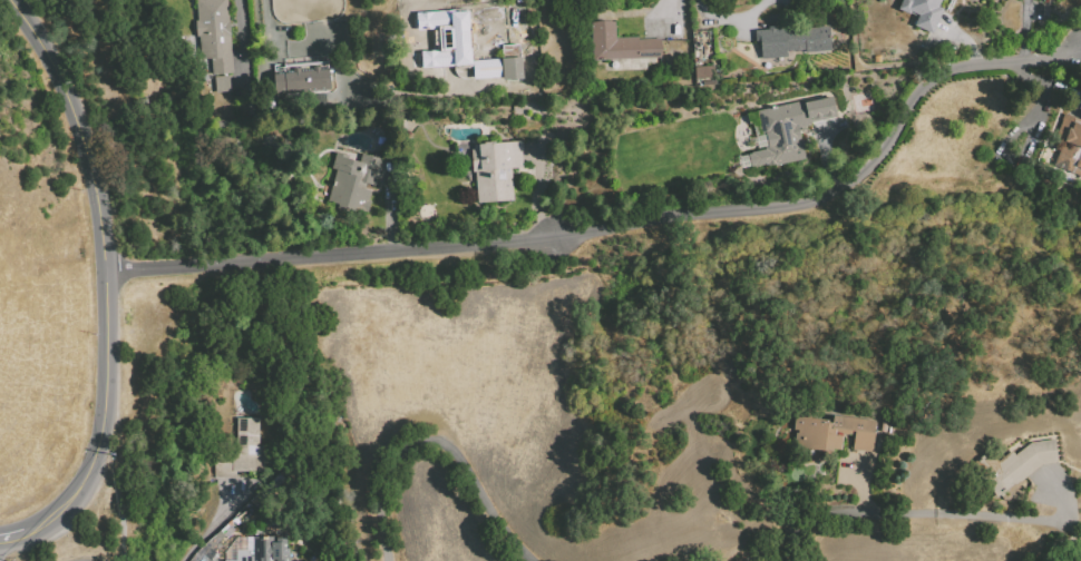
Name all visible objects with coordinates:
building: (922, 12)
road: (675, 17)
road: (517, 19)
road: (729, 20)
road: (1024, 30)
road: (238, 33)
building: (451, 33)
building: (212, 37)
building: (793, 40)
building: (619, 43)
road: (1052, 58)
building: (510, 61)
road: (869, 66)
building: (702, 71)
building: (300, 81)
building: (220, 82)
building: (787, 129)
building: (1068, 145)
road: (824, 151)
building: (494, 168)
building: (351, 181)
road: (592, 229)
road: (101, 267)
building: (830, 432)
road: (438, 442)
building: (241, 450)
road: (993, 516)
road: (829, 519)
road: (218, 521)
road: (18, 535)
building: (256, 549)

